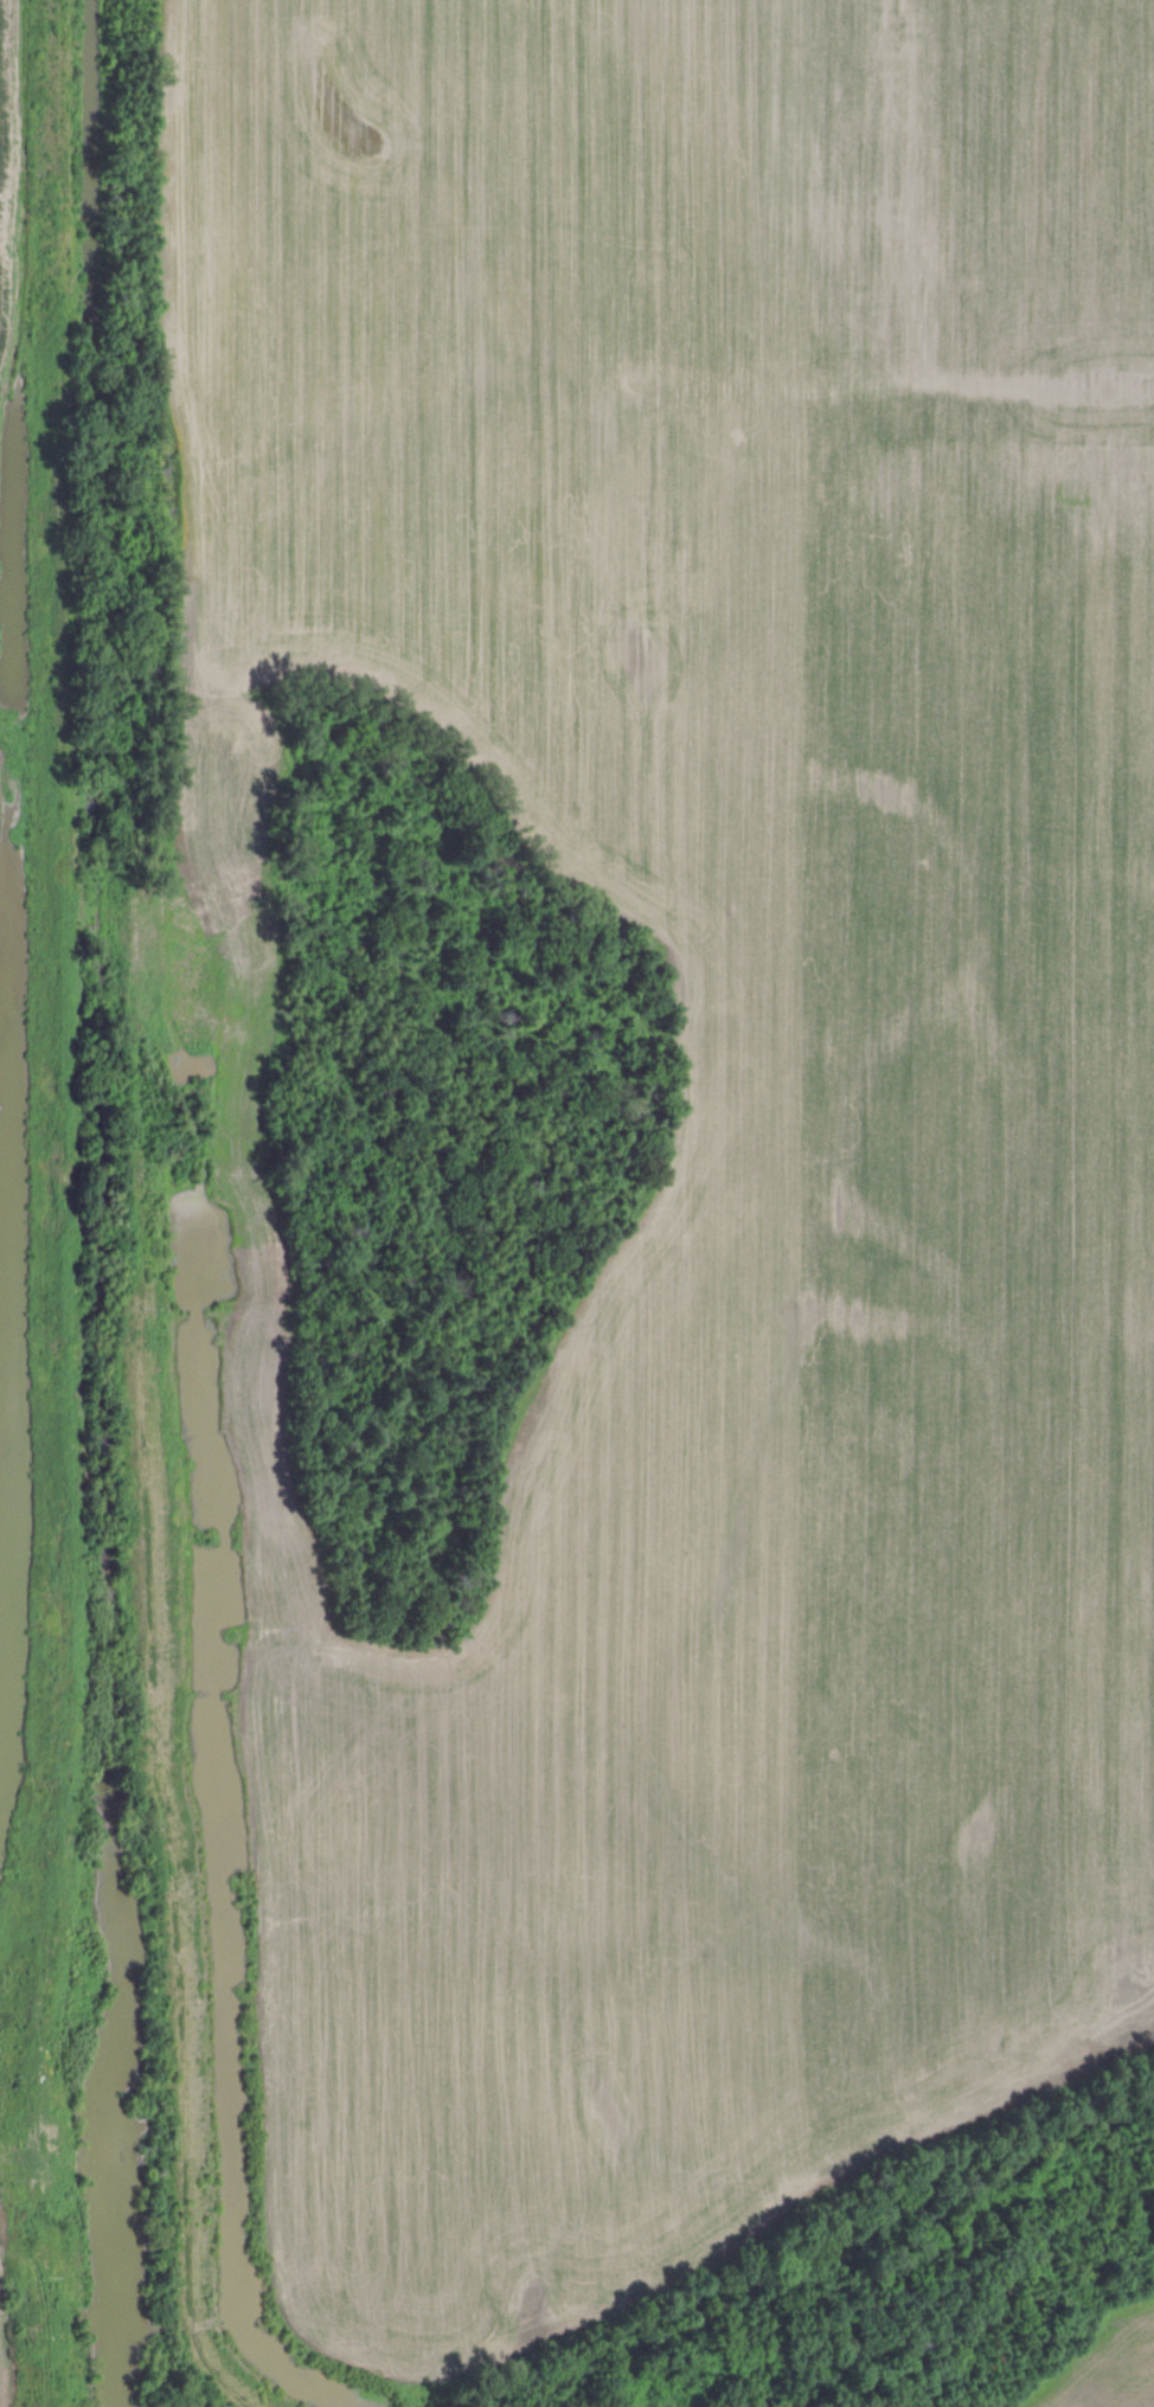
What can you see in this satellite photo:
crop: (7, 160)
crop: (717, 1109)

